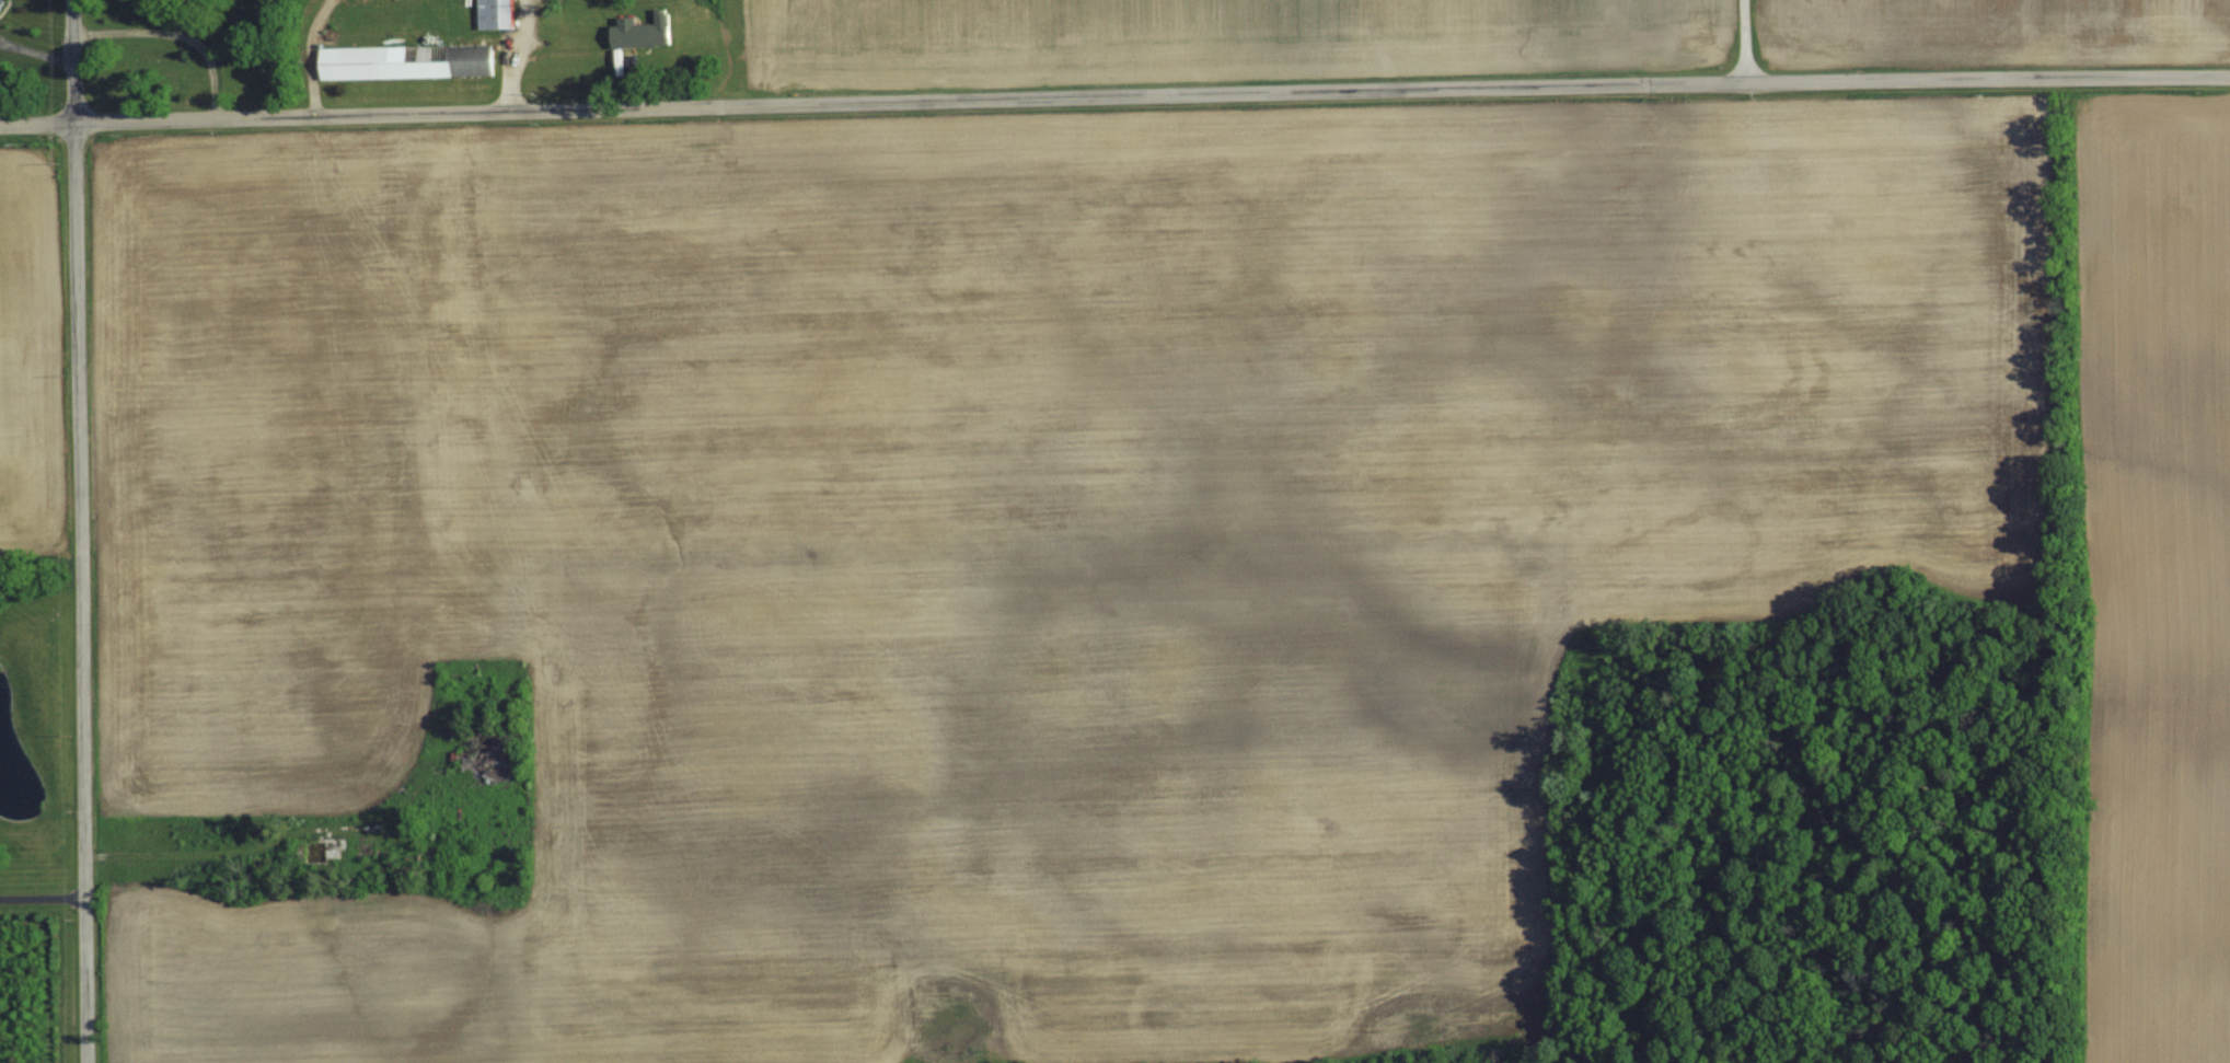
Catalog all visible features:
building: (498, 13)
building: (647, 31)
road: (1755, 41)
road: (517, 56)
road: (309, 57)
building: (409, 61)
road: (1114, 96)
road: (77, 531)
building: (326, 850)
road: (42, 899)

